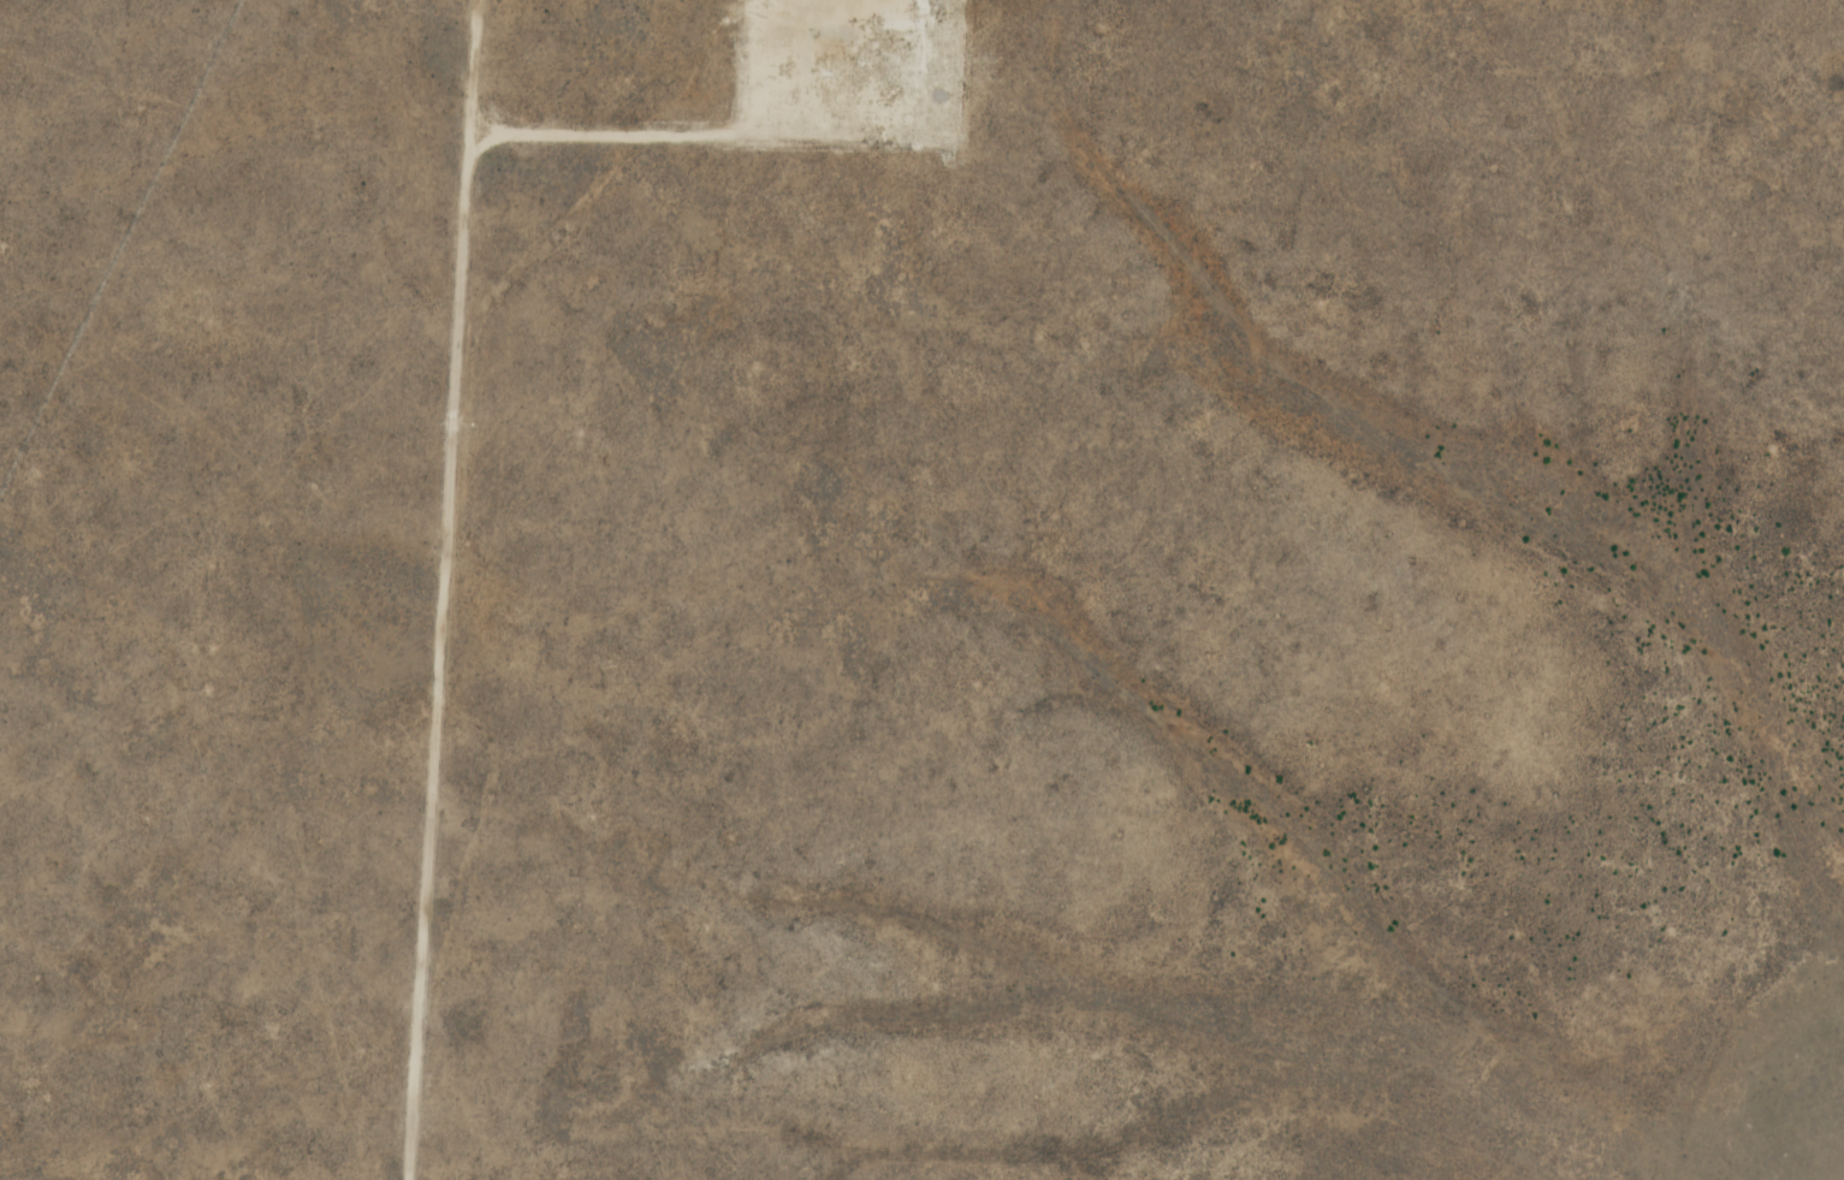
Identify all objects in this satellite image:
road: (727, 126)
road: (444, 589)

